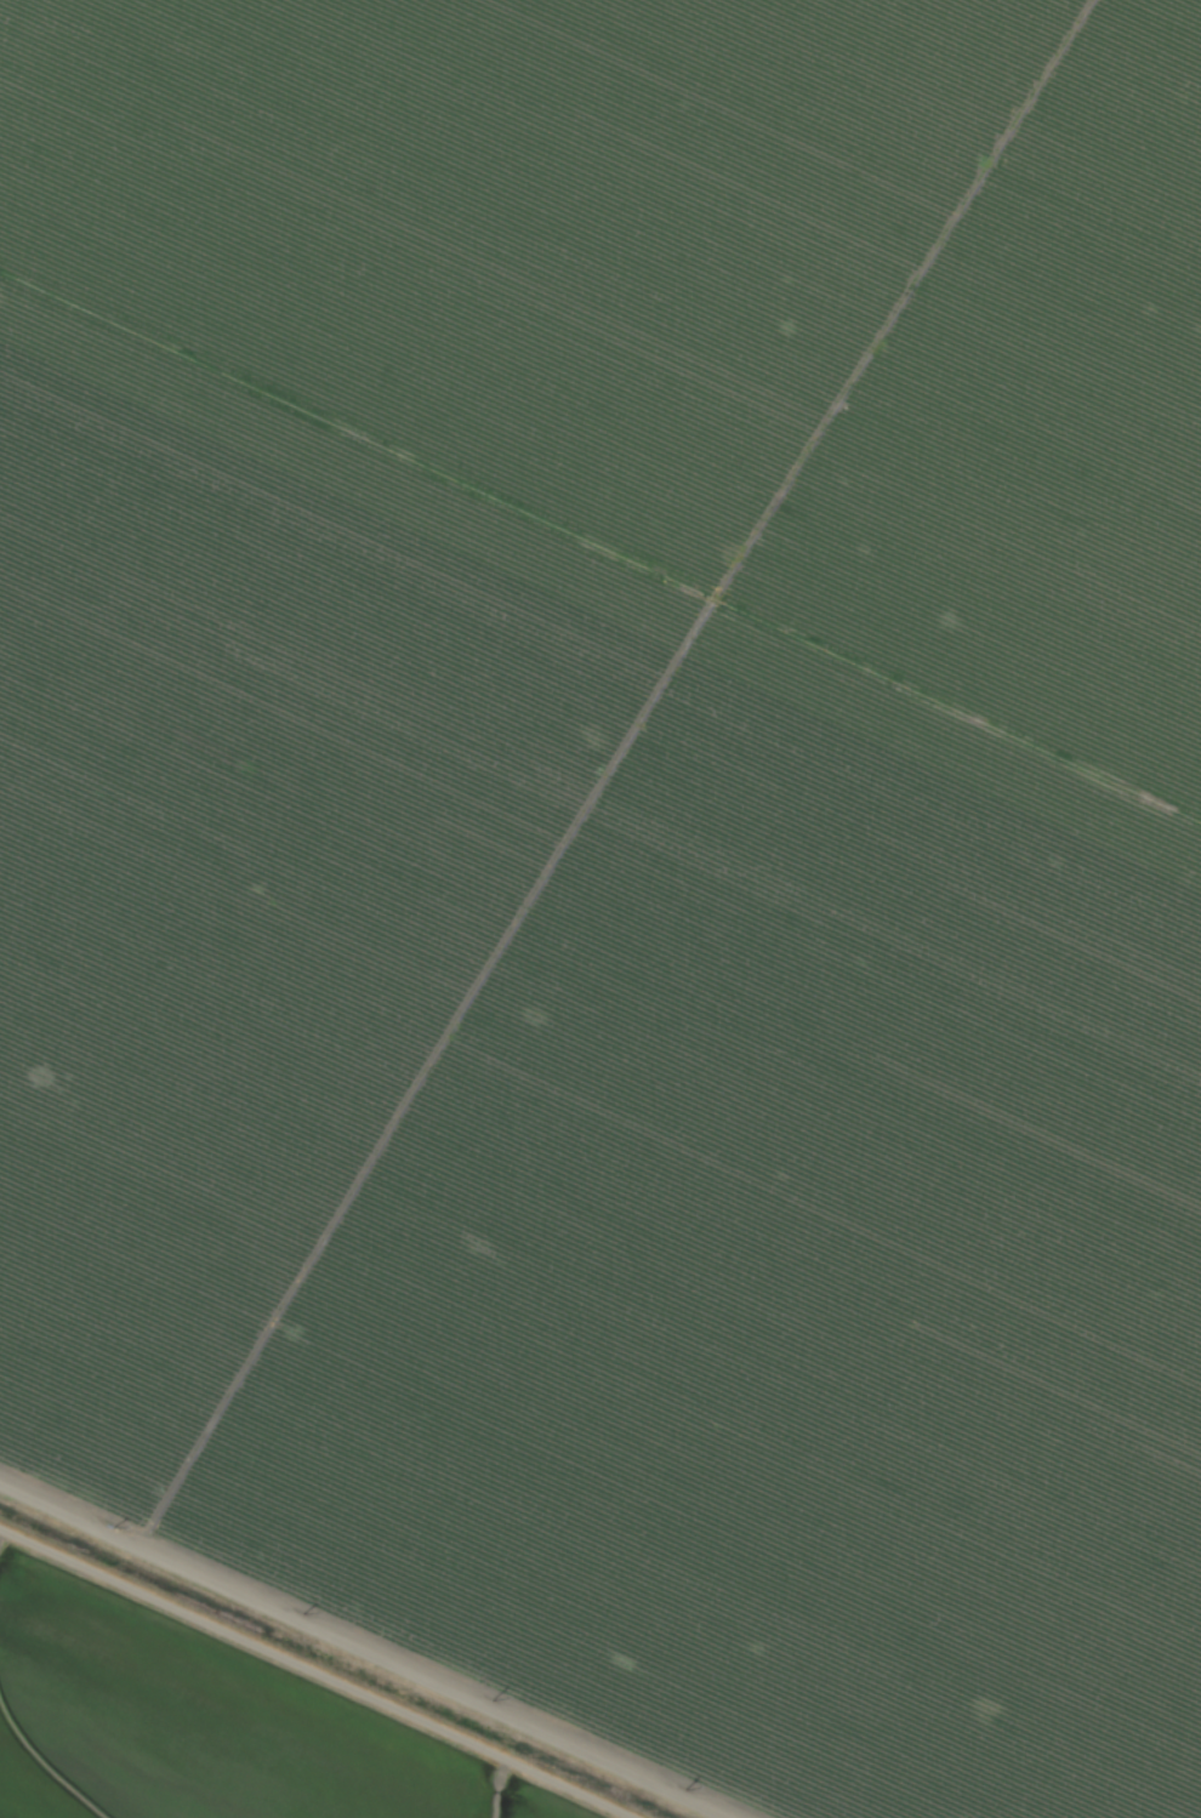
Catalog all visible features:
crop: (600, 908)

